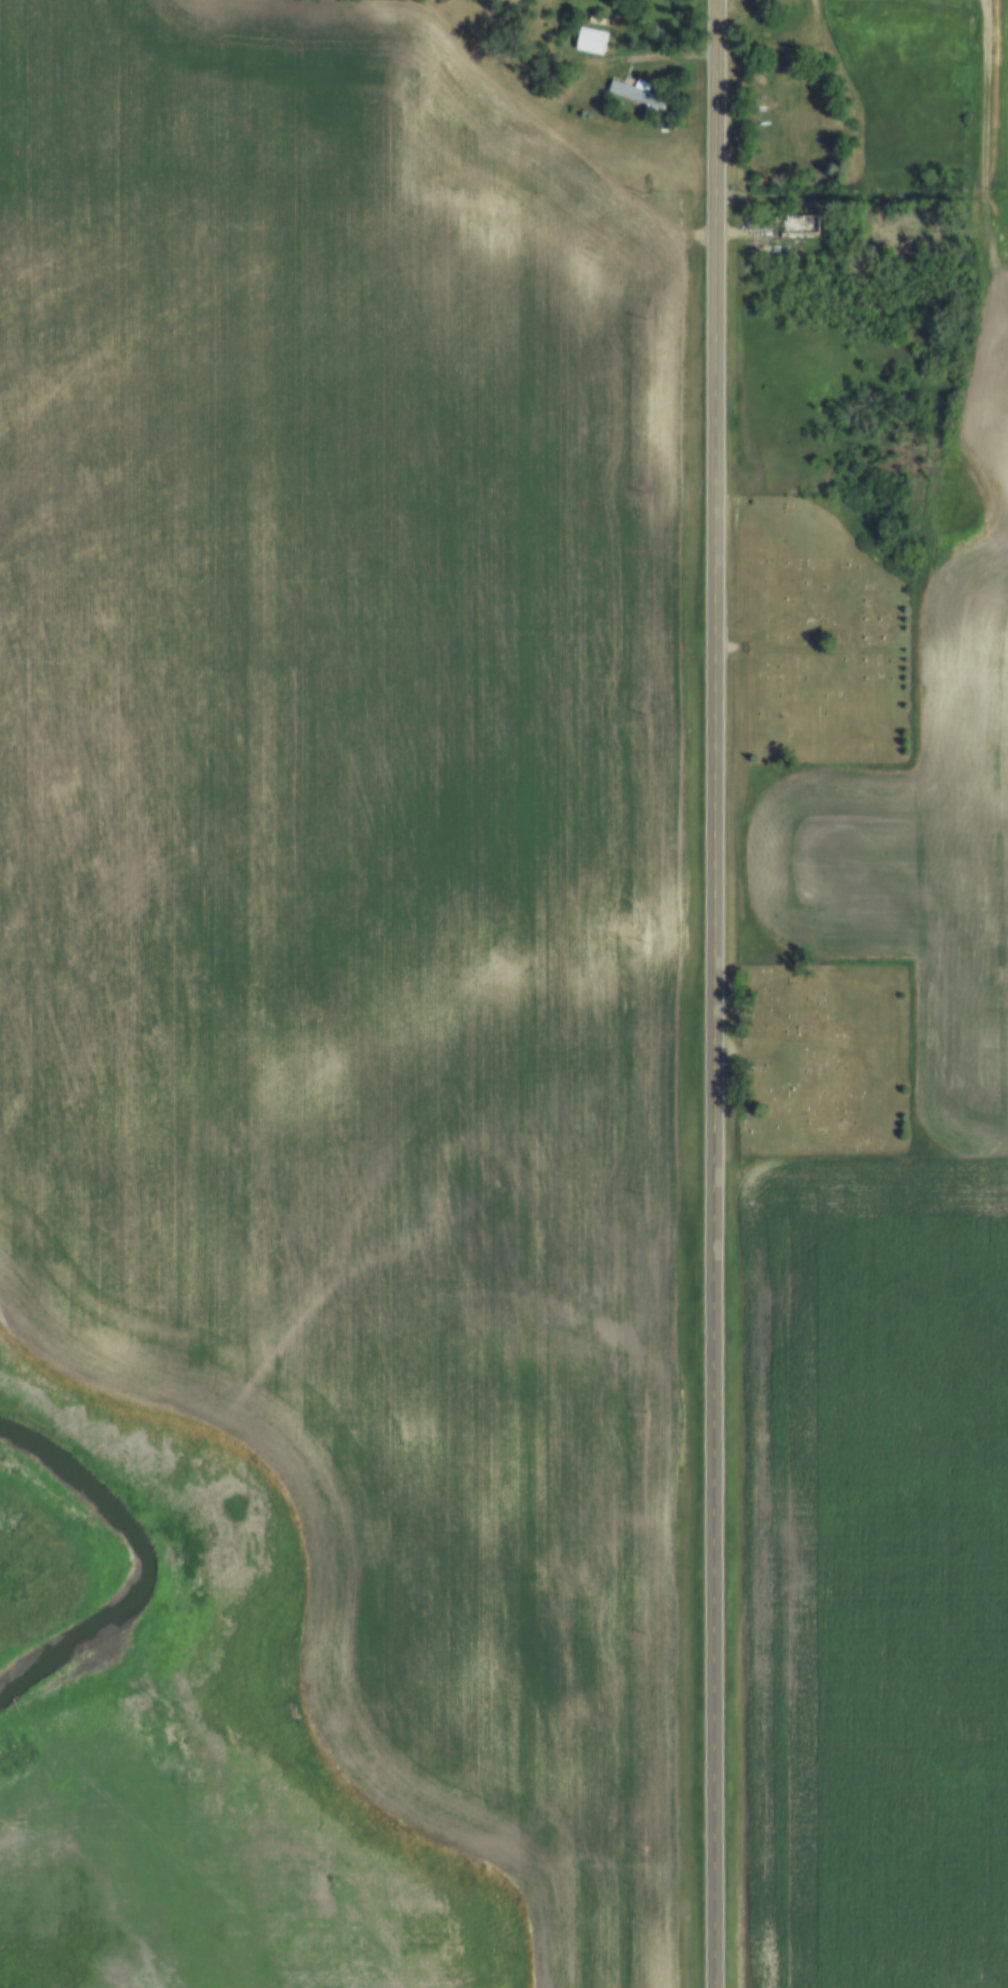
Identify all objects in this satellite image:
building: (597, 20)
building: (594, 41)
building: (641, 94)
road: (992, 102)
road: (859, 203)
building: (804, 223)
road: (723, 595)
park: (820, 641)
park: (826, 1059)
river: (126, 1574)
road: (722, 1589)

